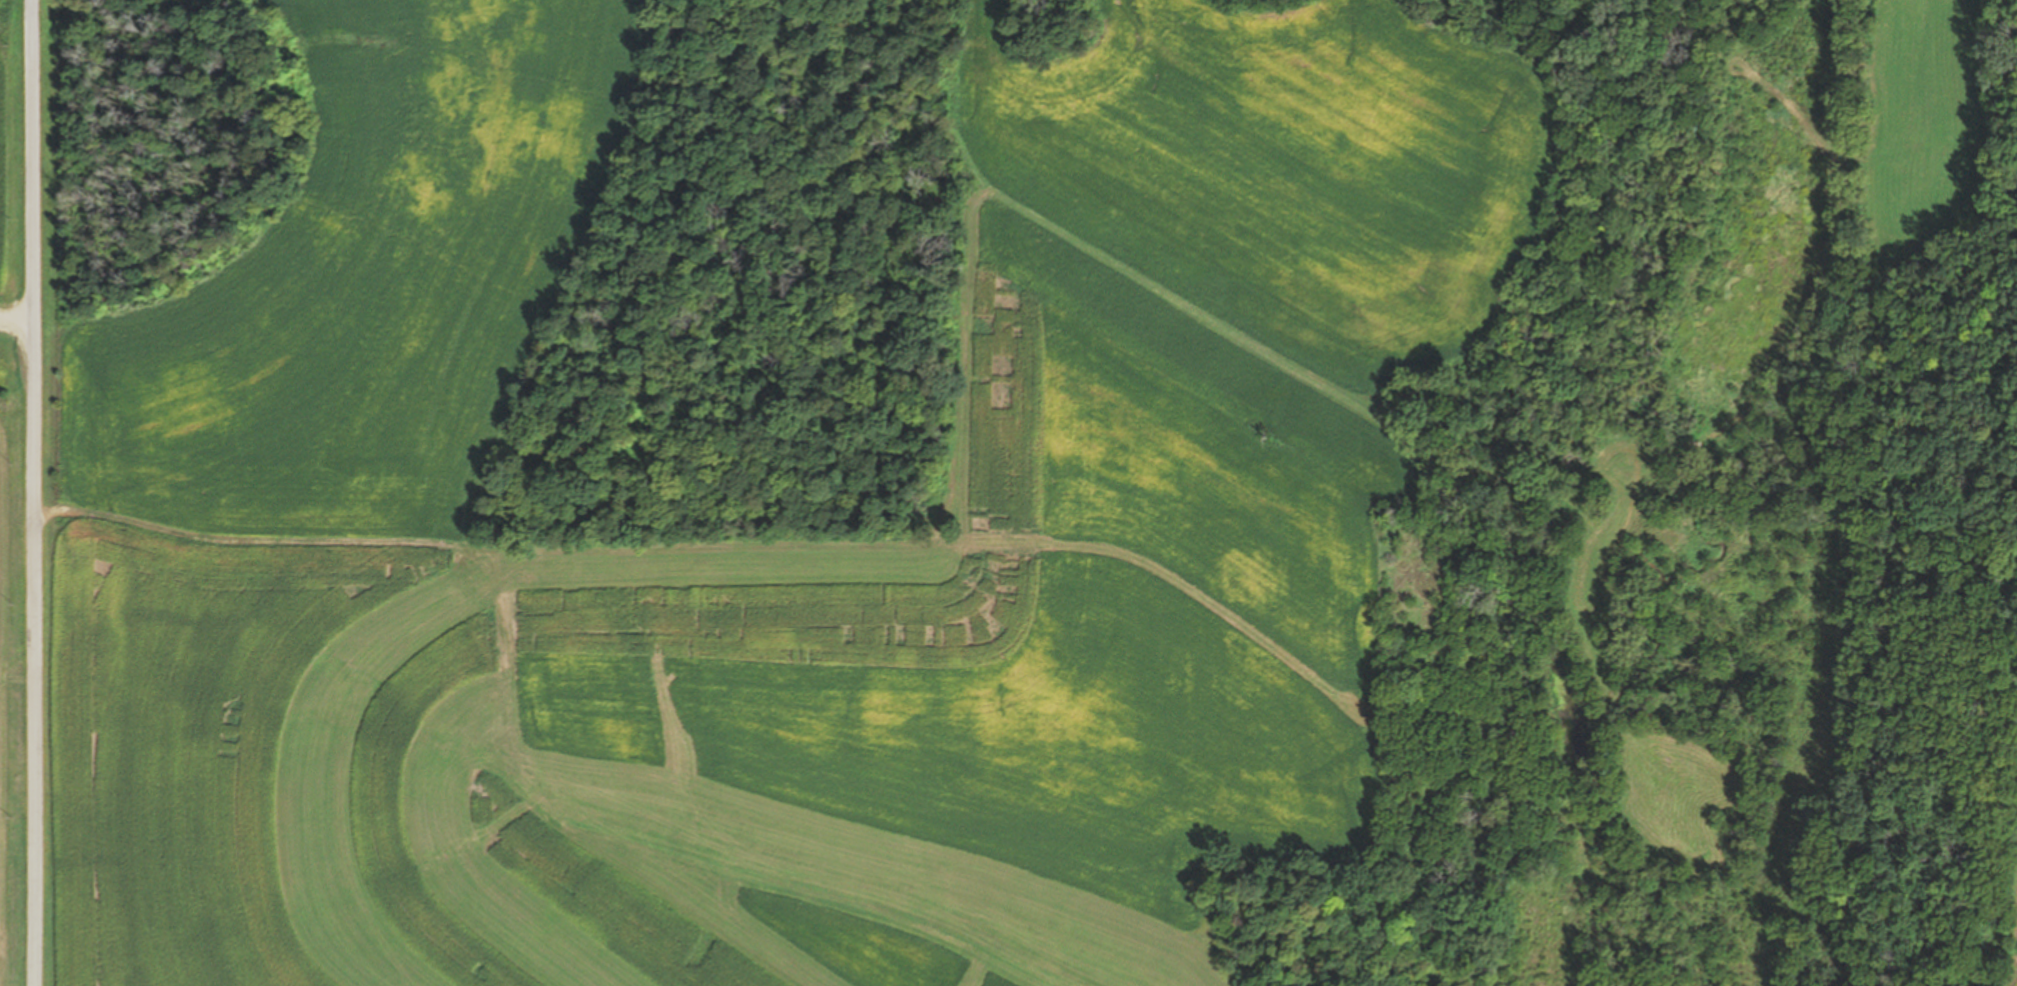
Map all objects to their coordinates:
road: (14, 317)
road: (29, 493)

